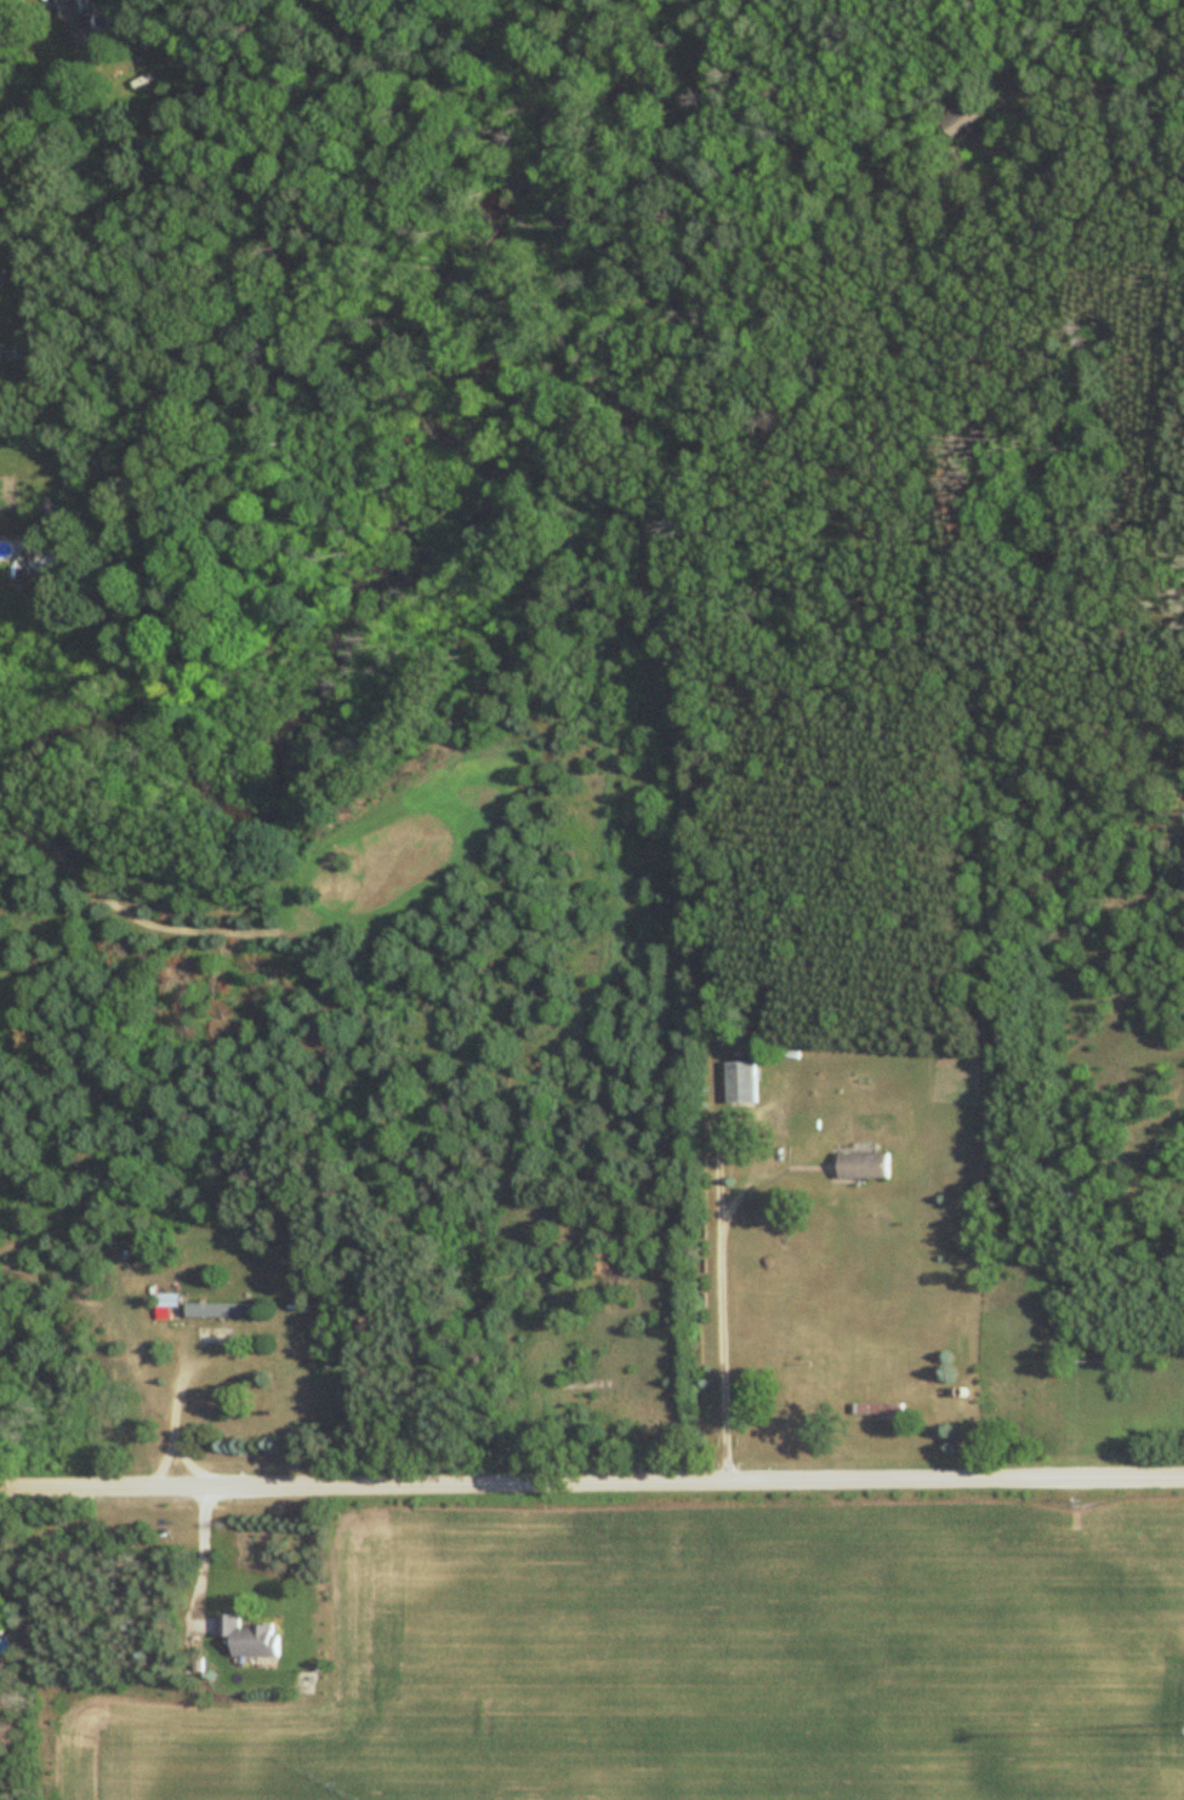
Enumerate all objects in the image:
building: (79, 25)
building: (958, 116)
building: (1, 280)
building: (740, 1083)
building: (863, 1166)
road: (719, 1221)
building: (166, 1301)
building: (221, 1311)
building: (877, 1411)
road: (175, 1413)
road: (186, 1462)
road: (591, 1483)
road: (200, 1551)
building: (246, 1639)

